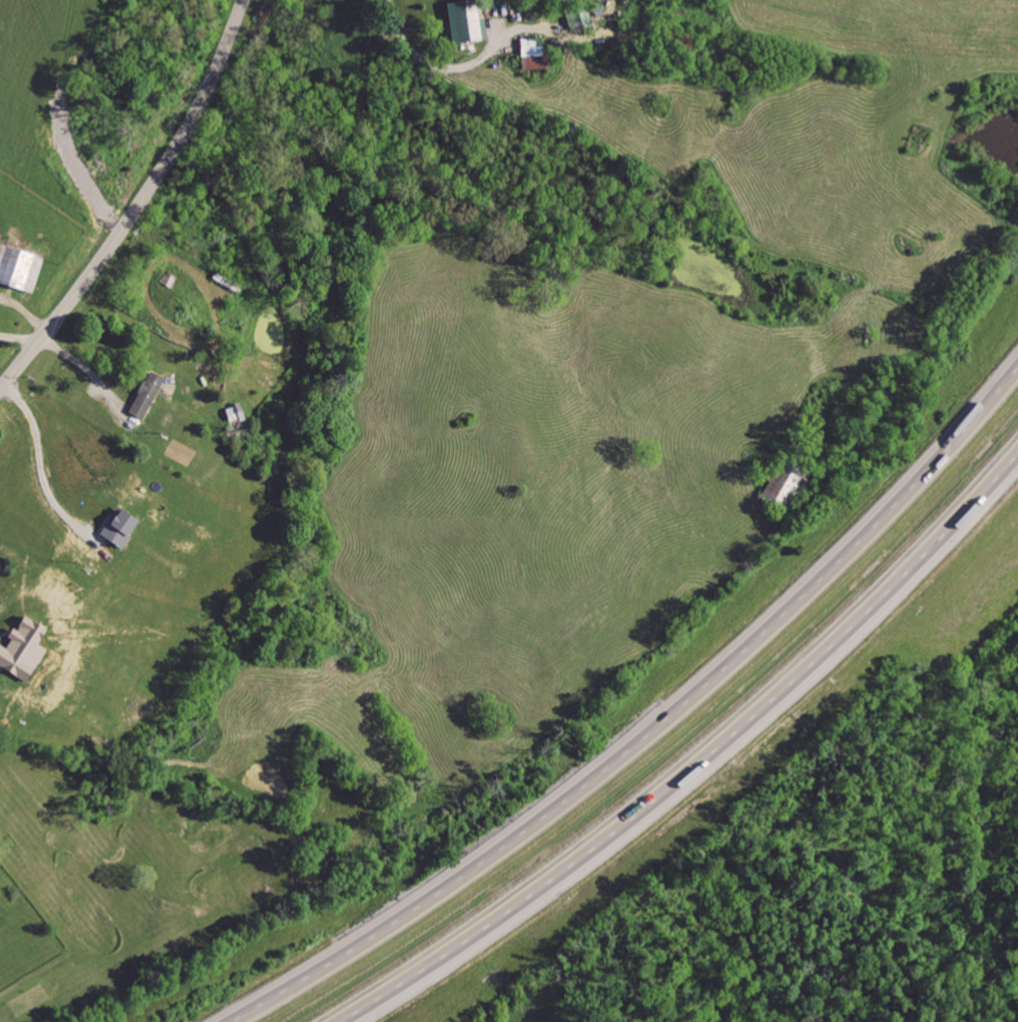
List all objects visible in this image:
building: (589, 15)
building: (465, 22)
building: (532, 55)
road: (434, 59)
road: (140, 205)
building: (18, 269)
road: (23, 337)
road: (93, 370)
building: (146, 396)
road: (41, 460)
building: (118, 528)
building: (21, 649)
building: (1, 671)
road: (656, 732)
road: (702, 761)

